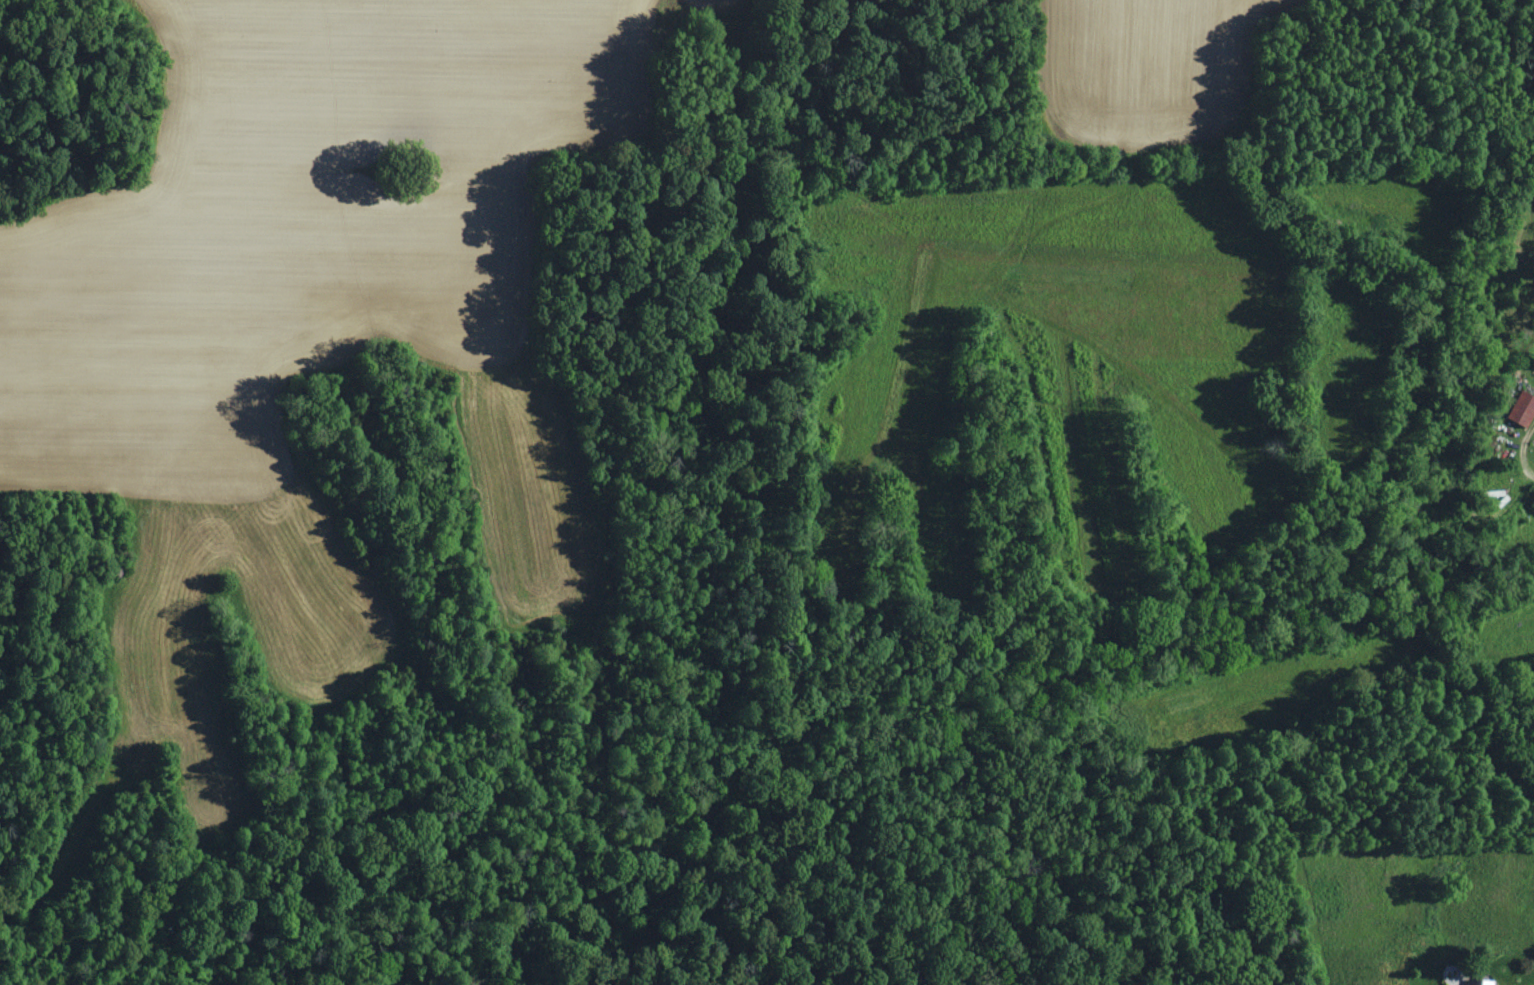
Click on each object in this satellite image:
building: (1519, 410)
road: (1518, 458)
building: (1475, 982)

